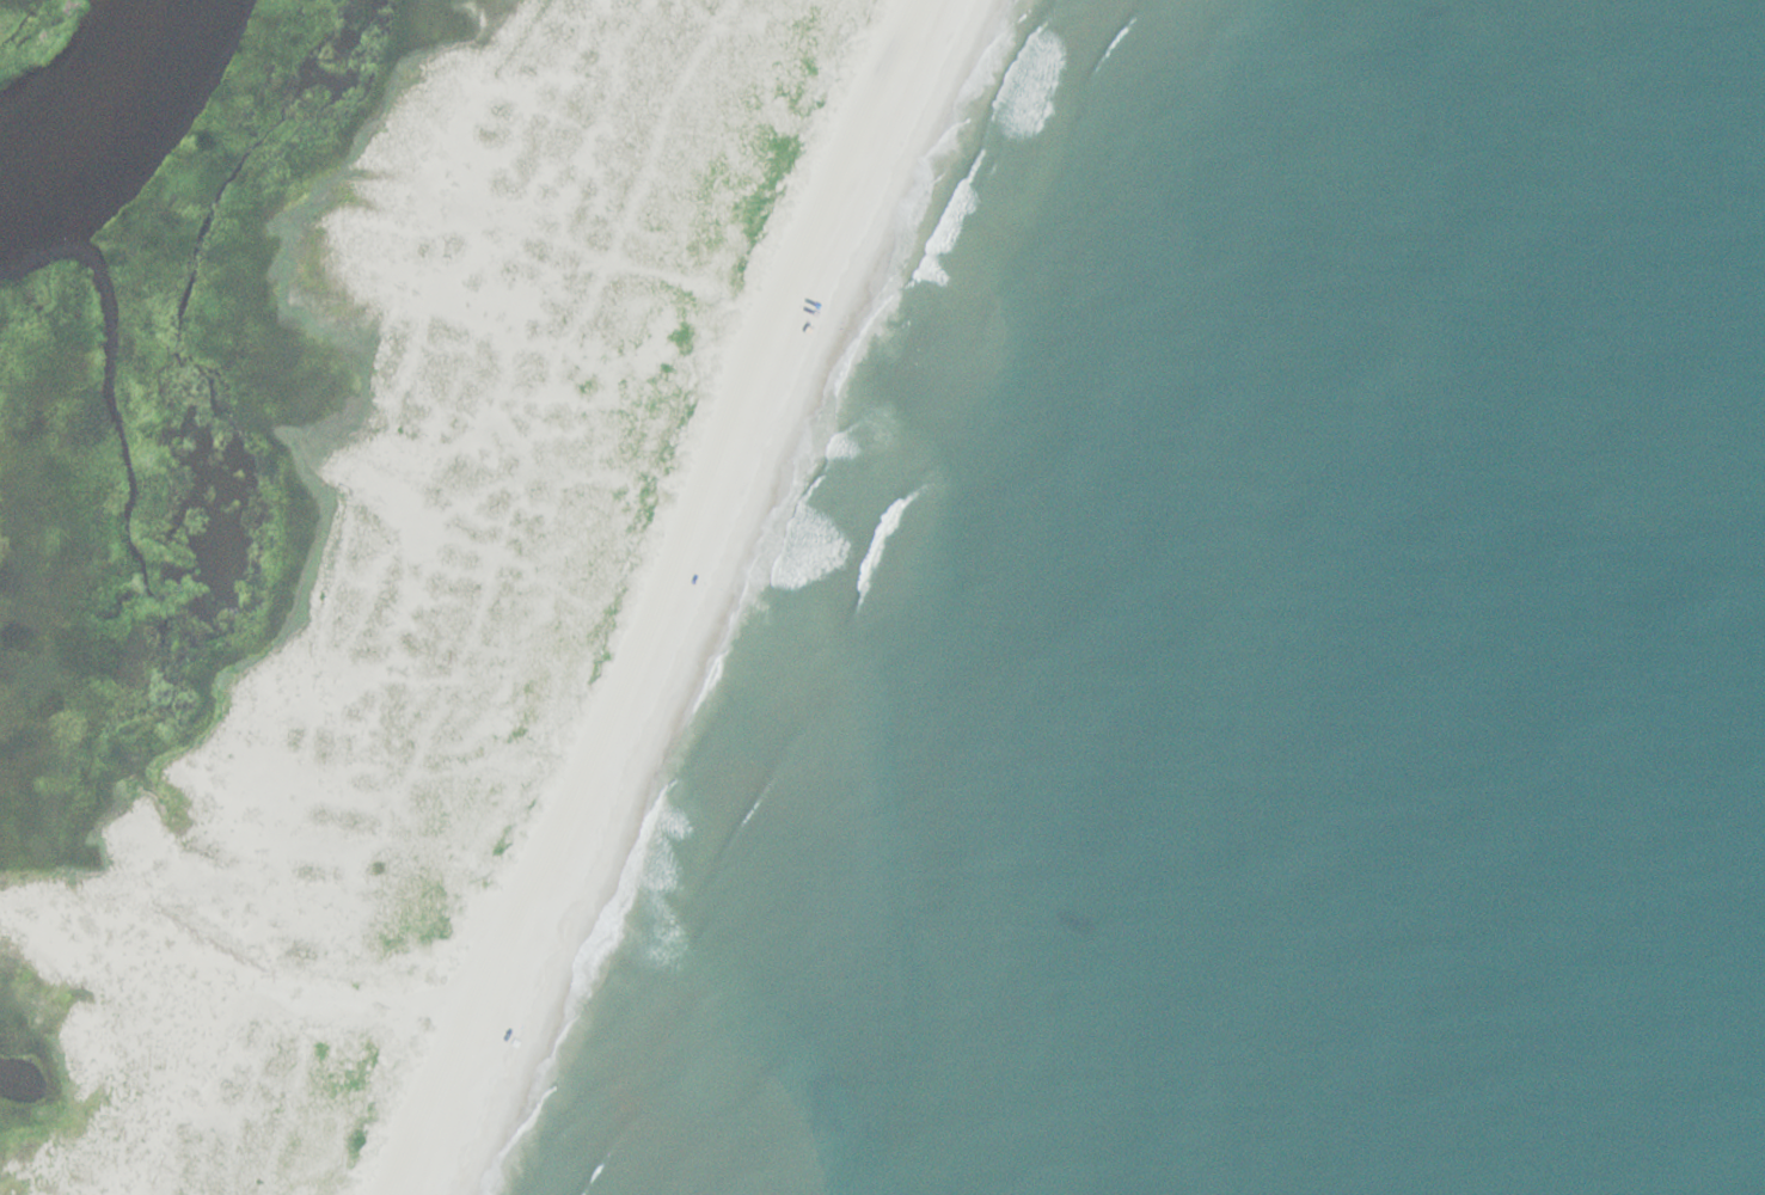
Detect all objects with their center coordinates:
park: (532, 554)

